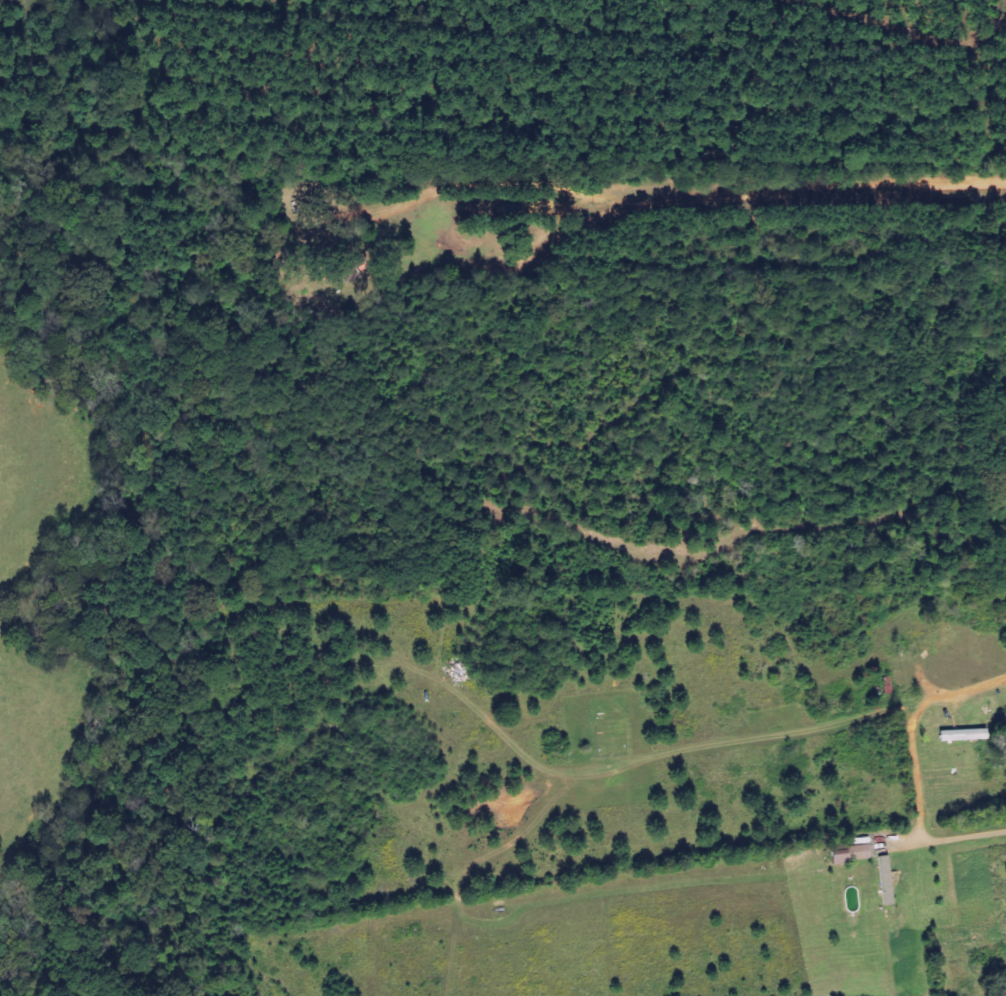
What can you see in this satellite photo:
building: (966, 736)
road: (913, 766)
building: (853, 855)
building: (887, 881)

